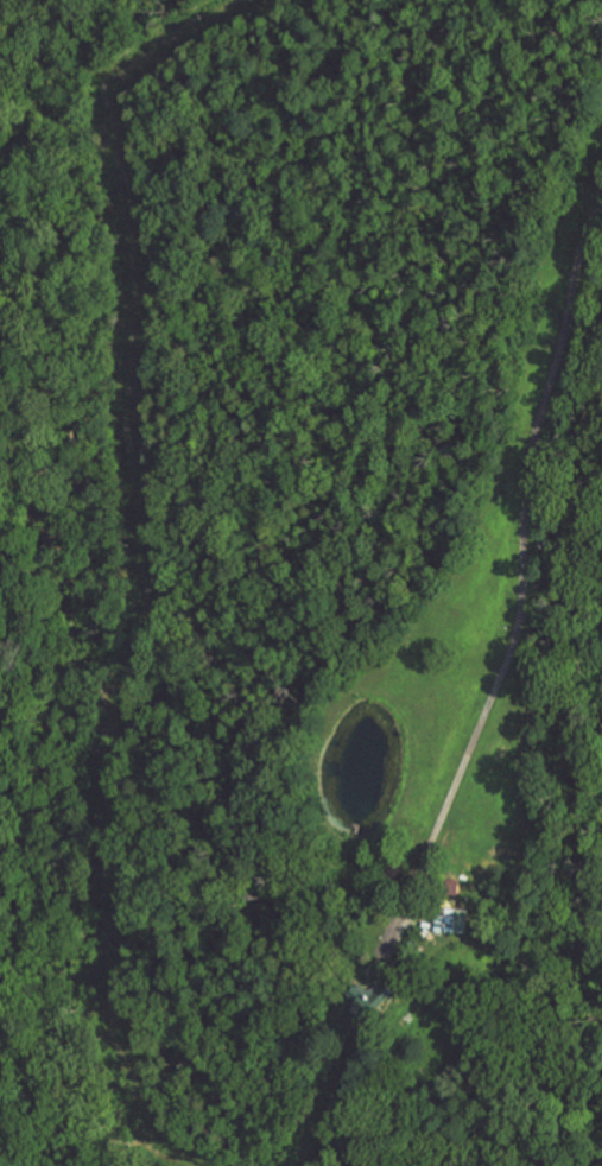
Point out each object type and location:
road: (154, 571)
road: (526, 578)
building: (370, 1000)

